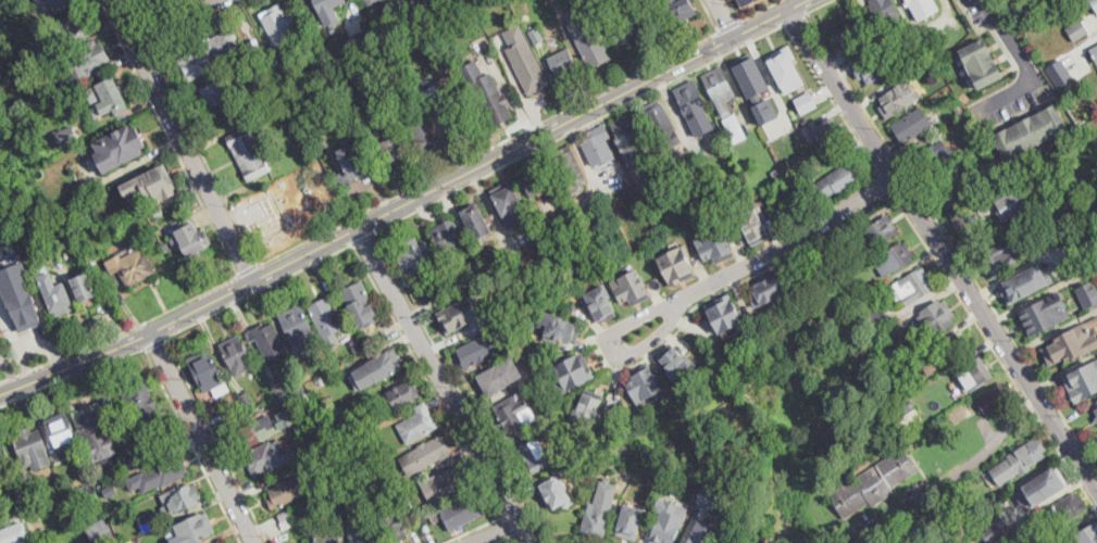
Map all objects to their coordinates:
building: (746, 1)
building: (147, 2)
building: (373, 2)
building: (1092, 3)
building: (55, 5)
road: (816, 7)
building: (922, 8)
building: (325, 10)
building: (678, 10)
road: (735, 10)
road: (760, 10)
building: (886, 12)
building: (427, 13)
road: (710, 15)
road: (725, 16)
road: (794, 18)
road: (154, 22)
road: (176, 22)
building: (381, 22)
building: (1020, 22)
road: (197, 24)
building: (281, 25)
road: (728, 25)
building: (626, 28)
building: (1076, 28)
building: (71, 29)
building: (848, 29)
road: (130, 35)
building: (515, 36)
building: (537, 36)
road: (145, 39)
building: (589, 39)
building: (361, 40)
building: (328, 45)
road: (140, 53)
building: (1094, 53)
building: (918, 54)
building: (211, 55)
building: (317, 55)
building: (89, 61)
road: (1024, 61)
building: (454, 64)
building: (563, 64)
building: (925, 64)
building: (982, 64)
building: (786, 67)
building: (1057, 67)
building: (528, 70)
building: (873, 70)
building: (752, 76)
building: (421, 90)
building: (720, 90)
building: (489, 92)
building: (219, 93)
building: (899, 97)
road: (833, 98)
building: (108, 99)
building: (806, 101)
building: (694, 105)
building: (959, 109)
building: (766, 110)
building: (13, 113)
building: (365, 114)
building: (660, 122)
building: (297, 124)
building: (912, 125)
building: (967, 125)
building: (1084, 125)
building: (319, 126)
building: (458, 127)
road: (577, 127)
building: (735, 128)
building: (828, 132)
building: (1031, 132)
building: (68, 137)
road: (170, 137)
building: (298, 137)
road: (444, 138)
building: (628, 138)
road: (527, 139)
road: (180, 140)
building: (426, 140)
building: (599, 146)
road: (489, 147)
building: (122, 148)
building: (394, 151)
building: (248, 153)
road: (204, 156)
building: (693, 157)
building: (935, 157)
building: (352, 165)
building: (569, 167)
building: (776, 175)
building: (656, 178)
building: (839, 180)
building: (535, 181)
building: (155, 182)
road: (885, 182)
building: (794, 186)
building: (956, 189)
building: (1054, 199)
building: (508, 201)
building: (1015, 202)
building: (289, 210)
building: (157, 212)
road: (905, 213)
building: (787, 214)
building: (476, 223)
building: (753, 225)
building: (1025, 228)
building: (880, 231)
building: (445, 236)
road: (361, 237)
road: (950, 240)
building: (82, 241)
building: (191, 241)
building: (715, 242)
building: (166, 248)
road: (942, 248)
building: (826, 254)
building: (414, 256)
building: (495, 257)
road: (761, 257)
building: (895, 260)
building: (999, 260)
building: (677, 264)
building: (132, 266)
road: (248, 268)
building: (1029, 285)
building: (912, 286)
building: (631, 287)
building: (770, 287)
building: (85, 288)
building: (867, 289)
road: (260, 291)
building: (55, 294)
building: (452, 294)
building: (1088, 294)
building: (600, 303)
building: (360, 305)
building: (571, 305)
building: (23, 310)
building: (460, 312)
building: (724, 312)
building: (1048, 314)
building: (877, 317)
building: (326, 319)
building: (937, 319)
building: (559, 326)
building: (298, 327)
road: (121, 332)
road: (127, 340)
building: (269, 341)
road: (157, 343)
building: (366, 344)
building: (1073, 344)
building: (357, 345)
building: (952, 345)
building: (544, 348)
building: (479, 350)
building: (900, 354)
building: (237, 355)
building: (676, 361)
building: (382, 368)
building: (207, 370)
building: (573, 370)
building: (973, 374)
building: (499, 377)
road: (73, 378)
road: (427, 380)
building: (1085, 382)
building: (644, 383)
building: (911, 384)
building: (277, 386)
road: (441, 386)
building: (403, 395)
road: (464, 396)
building: (290, 397)
building: (324, 397)
building: (691, 399)
building: (997, 399)
building: (246, 400)
building: (906, 405)
building: (144, 406)
building: (588, 407)
building: (234, 411)
building: (1096, 412)
building: (961, 413)
building: (515, 414)
building: (332, 416)
building: (1096, 420)
building: (417, 425)
building: (265, 426)
building: (61, 432)
building: (98, 434)
road: (200, 437)
road: (216, 440)
building: (590, 440)
building: (323, 445)
road: (192, 446)
building: (33, 450)
building: (149, 453)
building: (426, 455)
building: (537, 455)
building: (265, 457)
building: (130, 459)
building: (1020, 462)
building: (4, 463)
road: (960, 470)
building: (169, 471)
building: (373, 476)
building: (394, 481)
building: (1049, 481)
building: (446, 483)
building: (875, 483)
building: (110, 491)
building: (557, 491)
building: (288, 492)
building: (708, 496)
building: (332, 497)
building: (180, 500)
building: (319, 502)
building: (408, 502)
building: (1069, 507)
building: (9, 509)
building: (598, 509)
building: (462, 513)
building: (287, 520)
building: (629, 520)
building: (669, 521)
building: (148, 522)
building: (390, 523)
road: (510, 528)
building: (195, 529)
road: (475, 529)
building: (361, 531)
building: (101, 532)
building: (705, 532)
building: (993, 532)
building: (1088, 533)
building: (13, 534)
road: (499, 534)
building: (1008, 539)
building: (327, 540)
road: (511, 540)
building: (220, 542)
building: (1062, 542)

